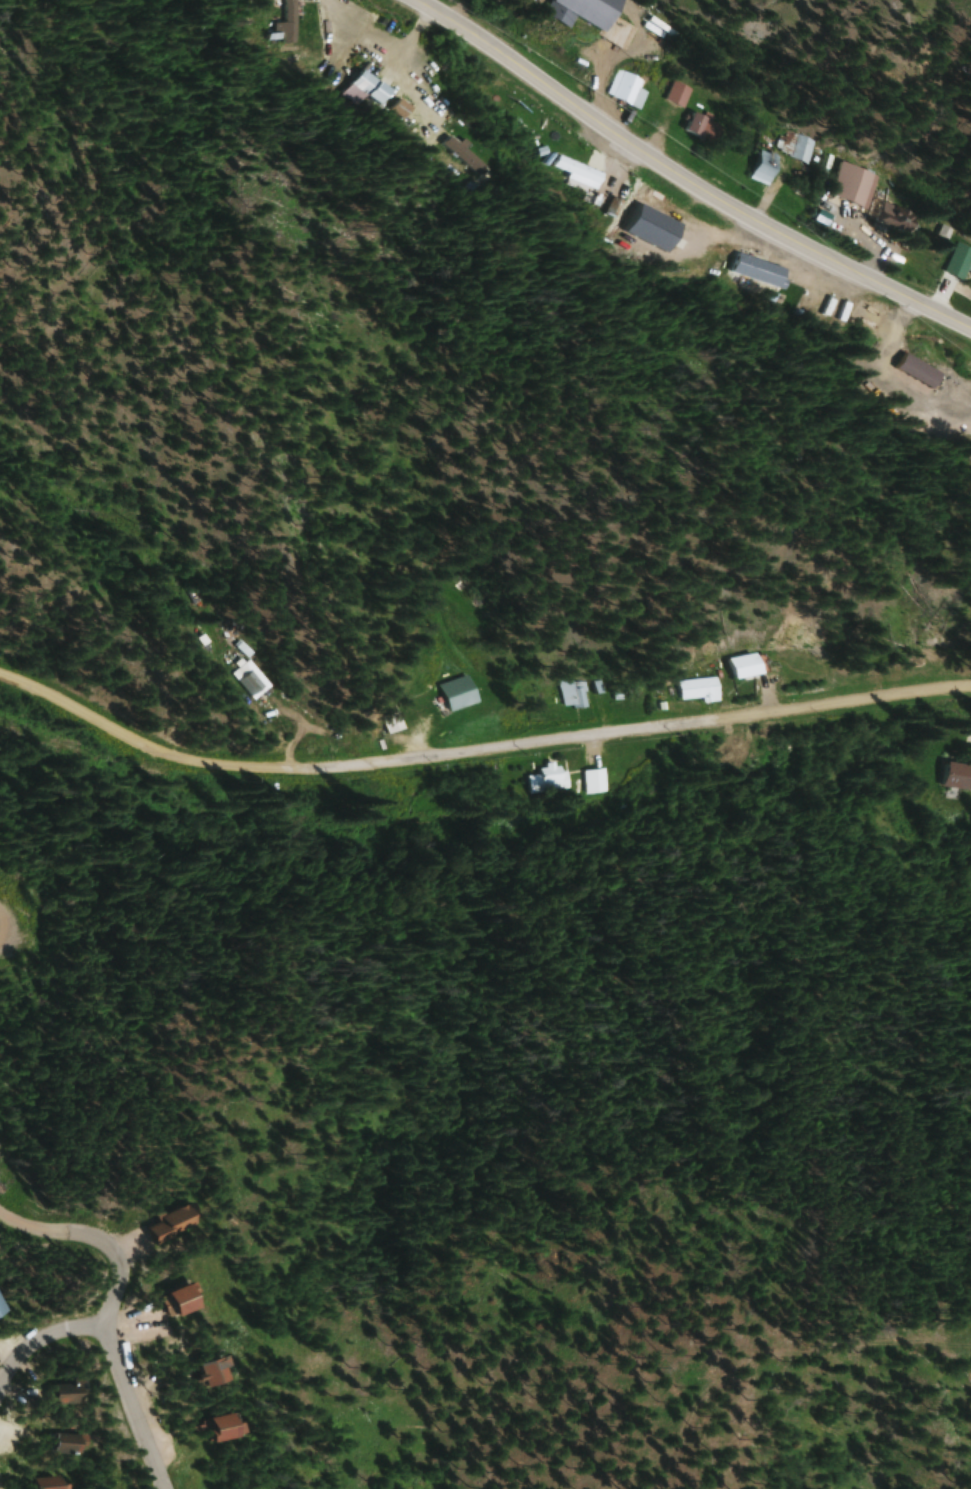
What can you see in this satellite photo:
building: (276, 16)
building: (604, 19)
building: (374, 87)
building: (628, 88)
building: (681, 94)
building: (705, 127)
building: (804, 149)
building: (766, 168)
road: (684, 181)
building: (855, 185)
building: (896, 218)
building: (961, 262)
building: (759, 269)
building: (920, 370)
building: (750, 665)
building: (252, 678)
building: (701, 689)
building: (461, 693)
building: (576, 693)
building: (396, 722)
road: (478, 751)
building: (728, 755)
building: (957, 776)
building: (549, 778)
building: (596, 781)
road: (92, 1237)
building: (184, 1302)
road: (37, 1337)
building: (219, 1373)
building: (71, 1393)
road: (130, 1402)
building: (228, 1428)
building: (69, 1445)
building: (53, 1483)

